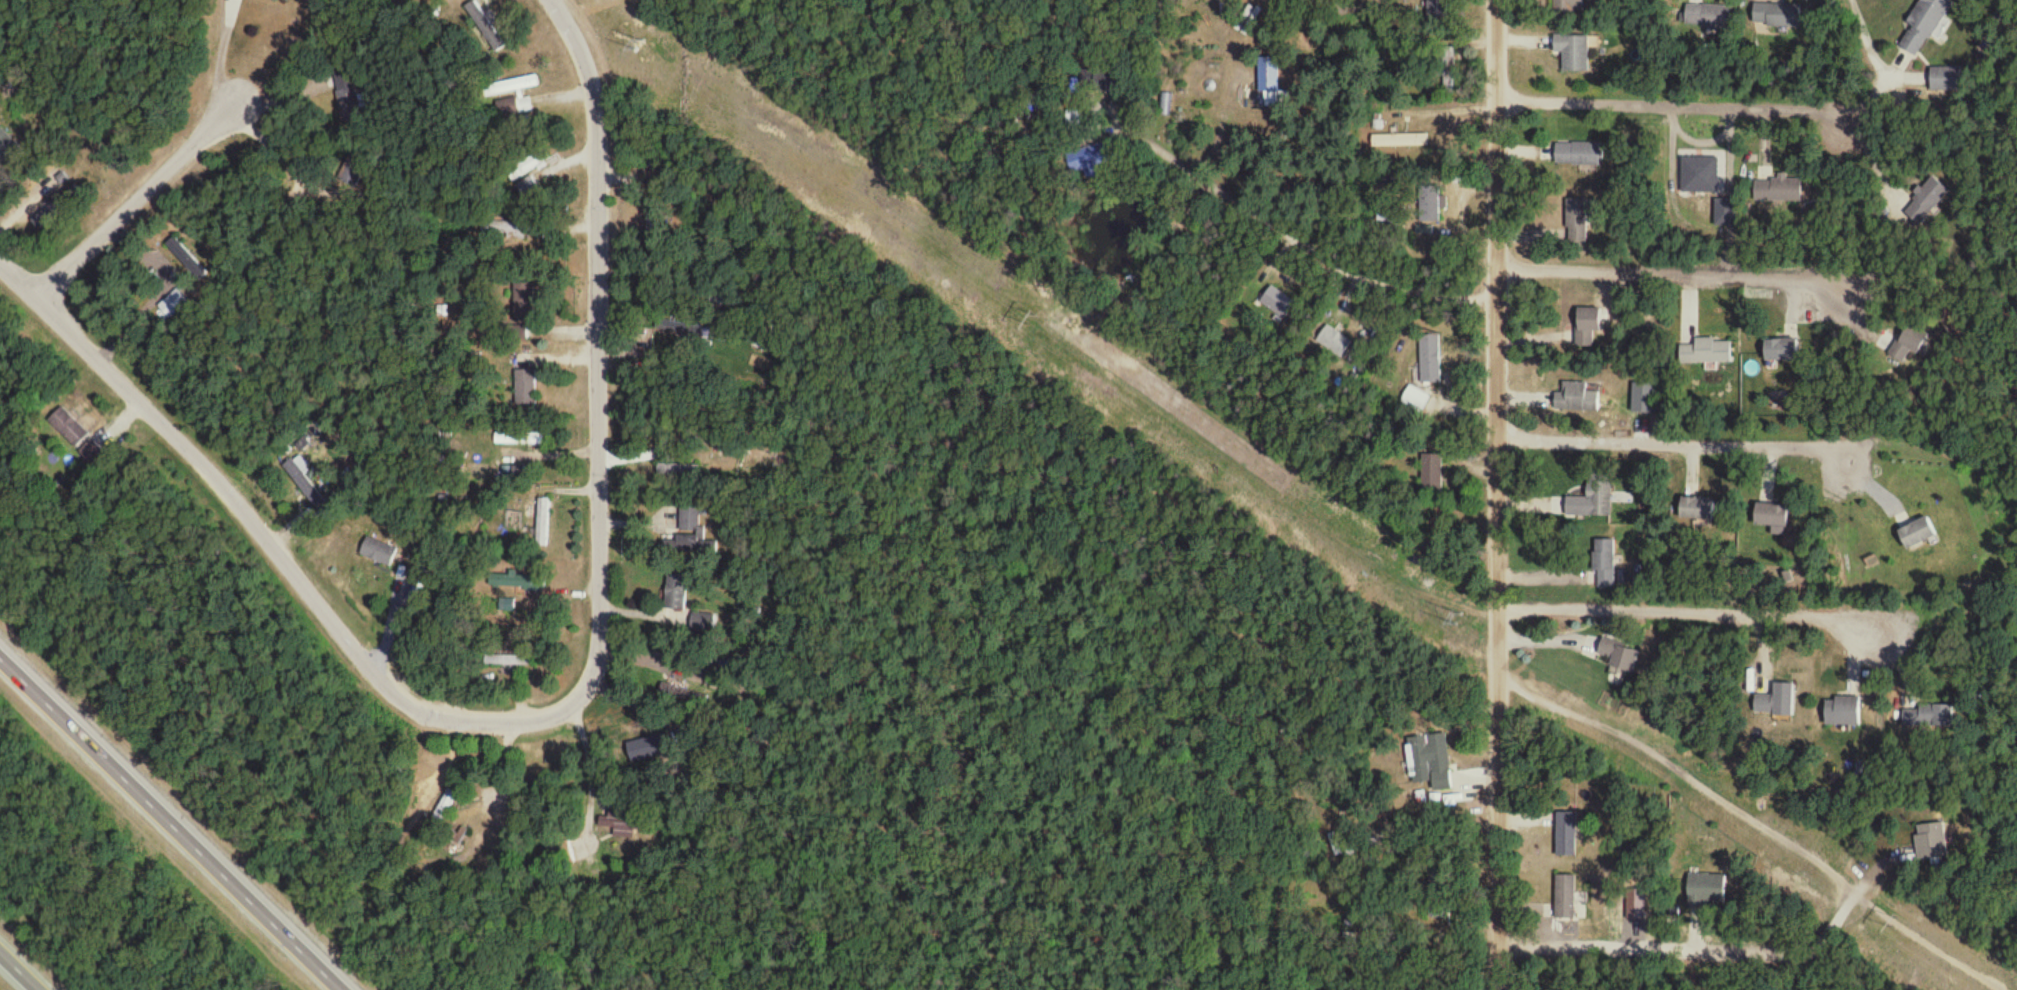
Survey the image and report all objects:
building: (270, 1)
building: (1566, 7)
building: (1776, 16)
building: (1706, 18)
building: (490, 25)
building: (1922, 26)
power tower: (641, 41)
road: (1869, 45)
building: (1572, 54)
road: (223, 58)
building: (1445, 65)
building: (1945, 81)
road: (566, 90)
building: (1270, 90)
building: (513, 99)
building: (1166, 107)
road: (1669, 110)
building: (1399, 143)
building: (5, 146)
road: (572, 156)
building: (1576, 156)
building: (1085, 162)
road: (291, 167)
building: (530, 167)
road: (619, 170)
building: (529, 190)
building: (1777, 192)
building: (1927, 203)
building: (1428, 205)
road: (136, 207)
road: (569, 223)
building: (1576, 223)
building: (505, 232)
road: (1295, 236)
building: (187, 261)
road: (1677, 281)
road: (598, 298)
building: (1277, 304)
building: (524, 305)
power tower: (1033, 312)
road: (564, 322)
building: (1587, 328)
building: (681, 333)
building: (514, 334)
building: (1334, 343)
building: (1907, 345)
building: (1778, 351)
road: (559, 353)
building: (1705, 353)
building: (1429, 360)
building: (525, 389)
building: (1577, 399)
building: (1415, 401)
building: (67, 428)
road: (630, 448)
road: (1679, 448)
building: (1431, 474)
building: (297, 479)
road: (575, 484)
road: (1506, 494)
building: (1592, 498)
building: (1696, 510)
road: (638, 516)
building: (1770, 517)
building: (690, 521)
building: (541, 522)
building: (1916, 535)
building: (377, 553)
building: (1604, 558)
road: (301, 578)
building: (511, 582)
road: (559, 590)
building: (675, 594)
road: (640, 606)
road: (1698, 606)
power tower: (1461, 615)
road: (390, 616)
building: (705, 624)
road: (630, 652)
building: (1618, 659)
building: (507, 661)
road: (623, 697)
building: (686, 698)
building: (1775, 703)
building: (1841, 713)
building: (1928, 717)
building: (657, 751)
building: (1430, 762)
road: (504, 765)
road: (440, 768)
road: (592, 770)
road: (599, 785)
building: (445, 807)
road: (177, 817)
building: (621, 826)
building: (1565, 836)
building: (1930, 843)
road: (1839, 880)
building: (1706, 890)
building: (1565, 899)
power tower: (1895, 918)
road: (25, 965)

